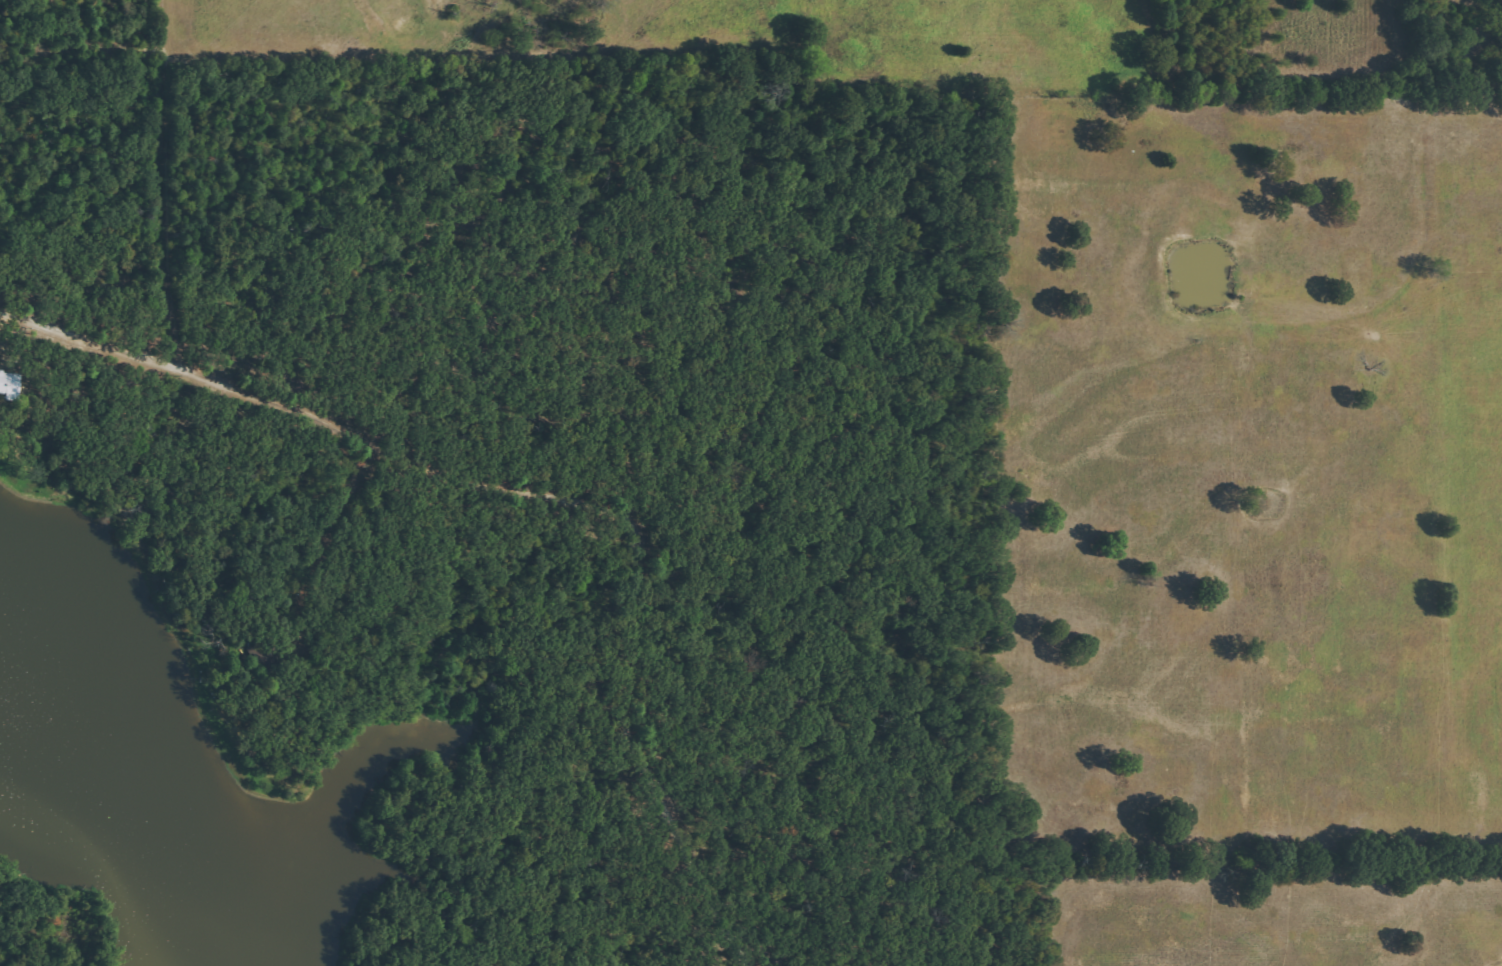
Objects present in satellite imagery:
road: (1408, 219)
building: (11, 385)
road: (549, 487)

